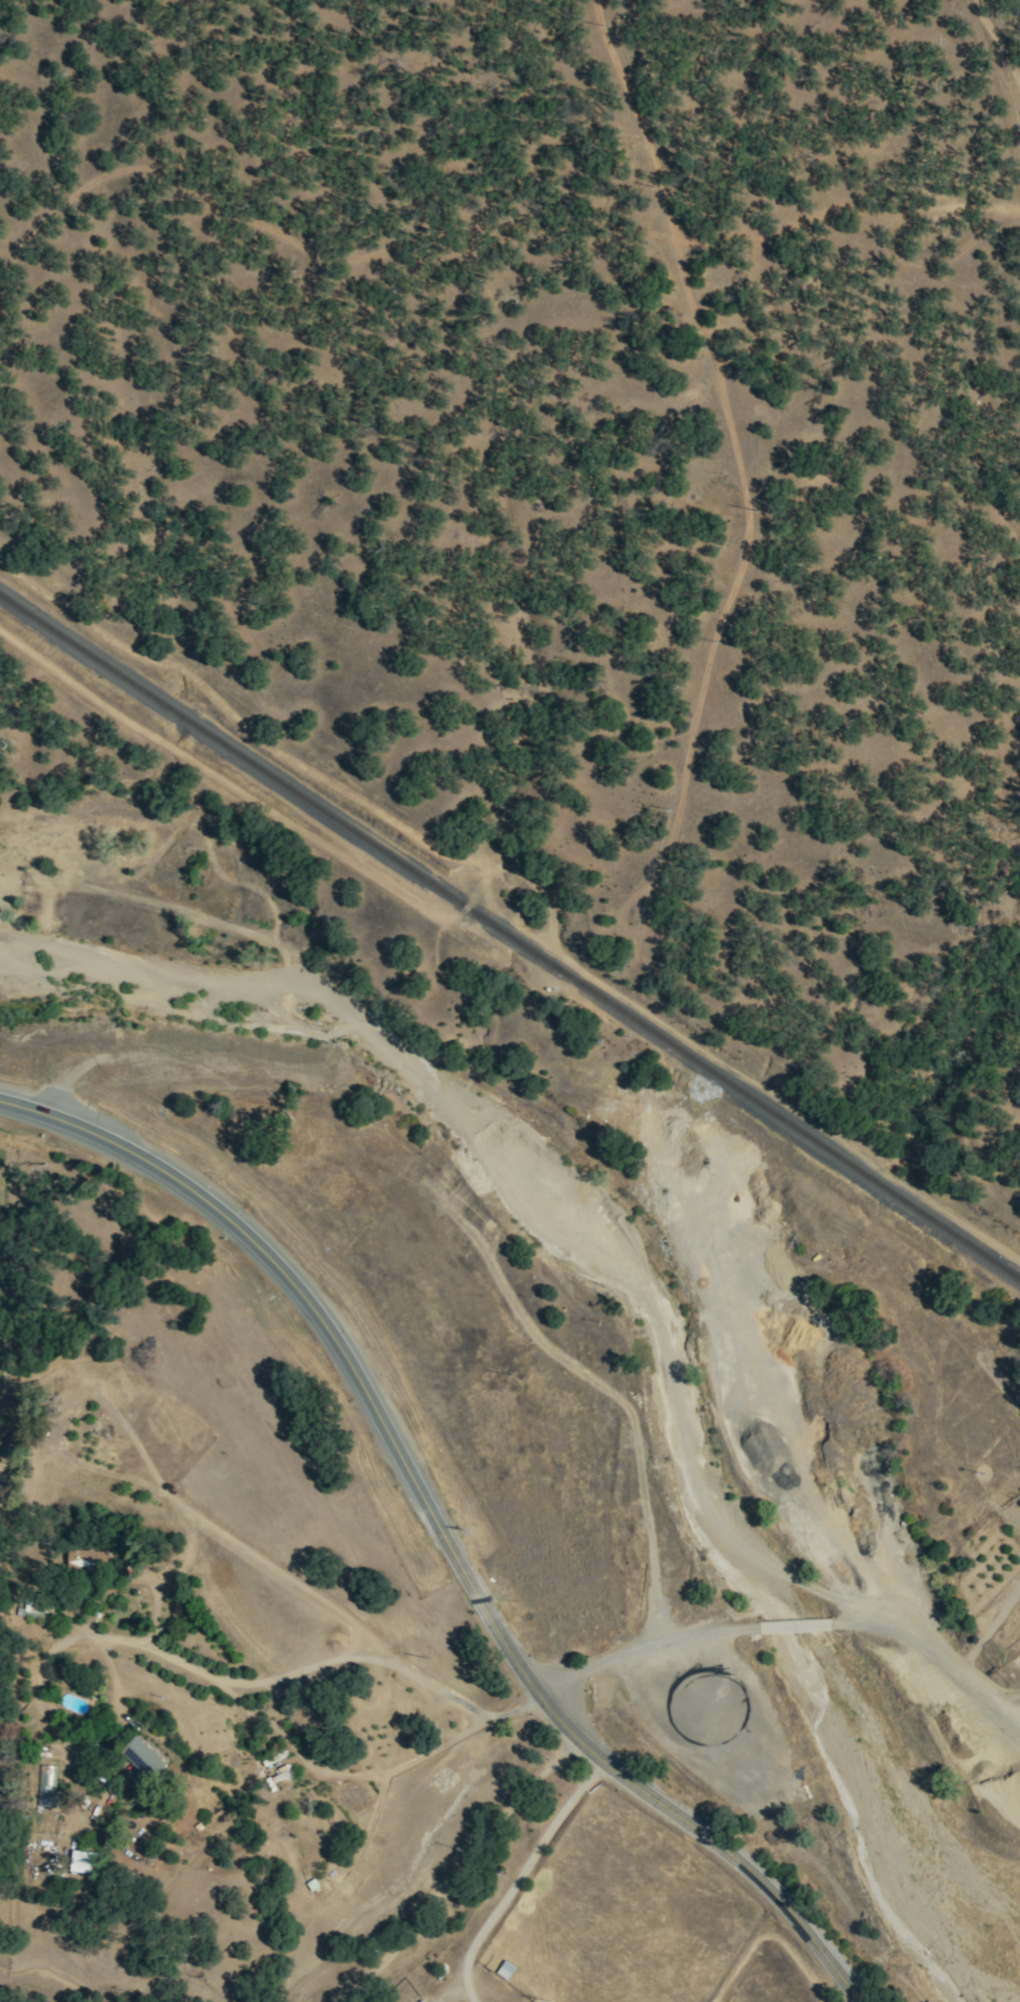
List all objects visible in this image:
railway: (510, 936)
river: (511, 1142)
road: (437, 1532)
building: (87, 1559)
river: (779, 1626)
building: (145, 1758)
river: (882, 1816)
building: (82, 1862)
road: (517, 1877)
building: (506, 1970)
building: (426, 2001)

